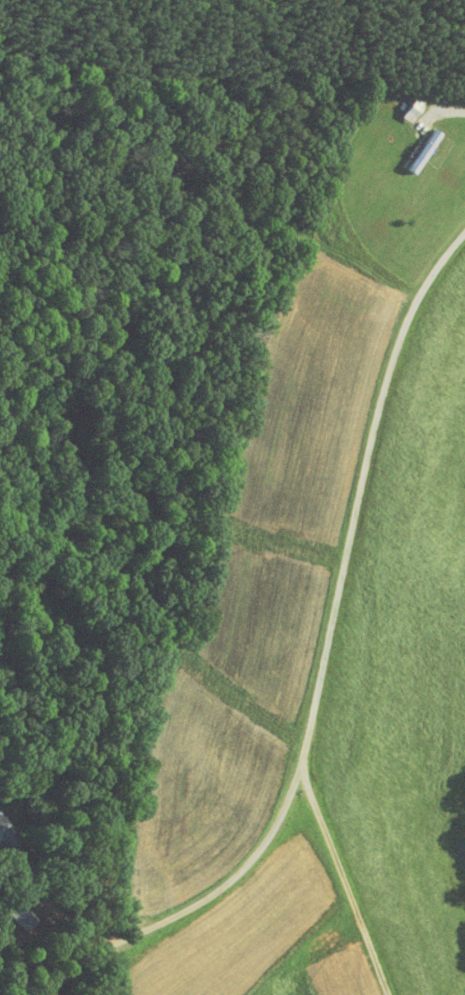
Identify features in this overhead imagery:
road: (433, 104)
road: (323, 669)
road: (56, 908)
building: (11, 909)

